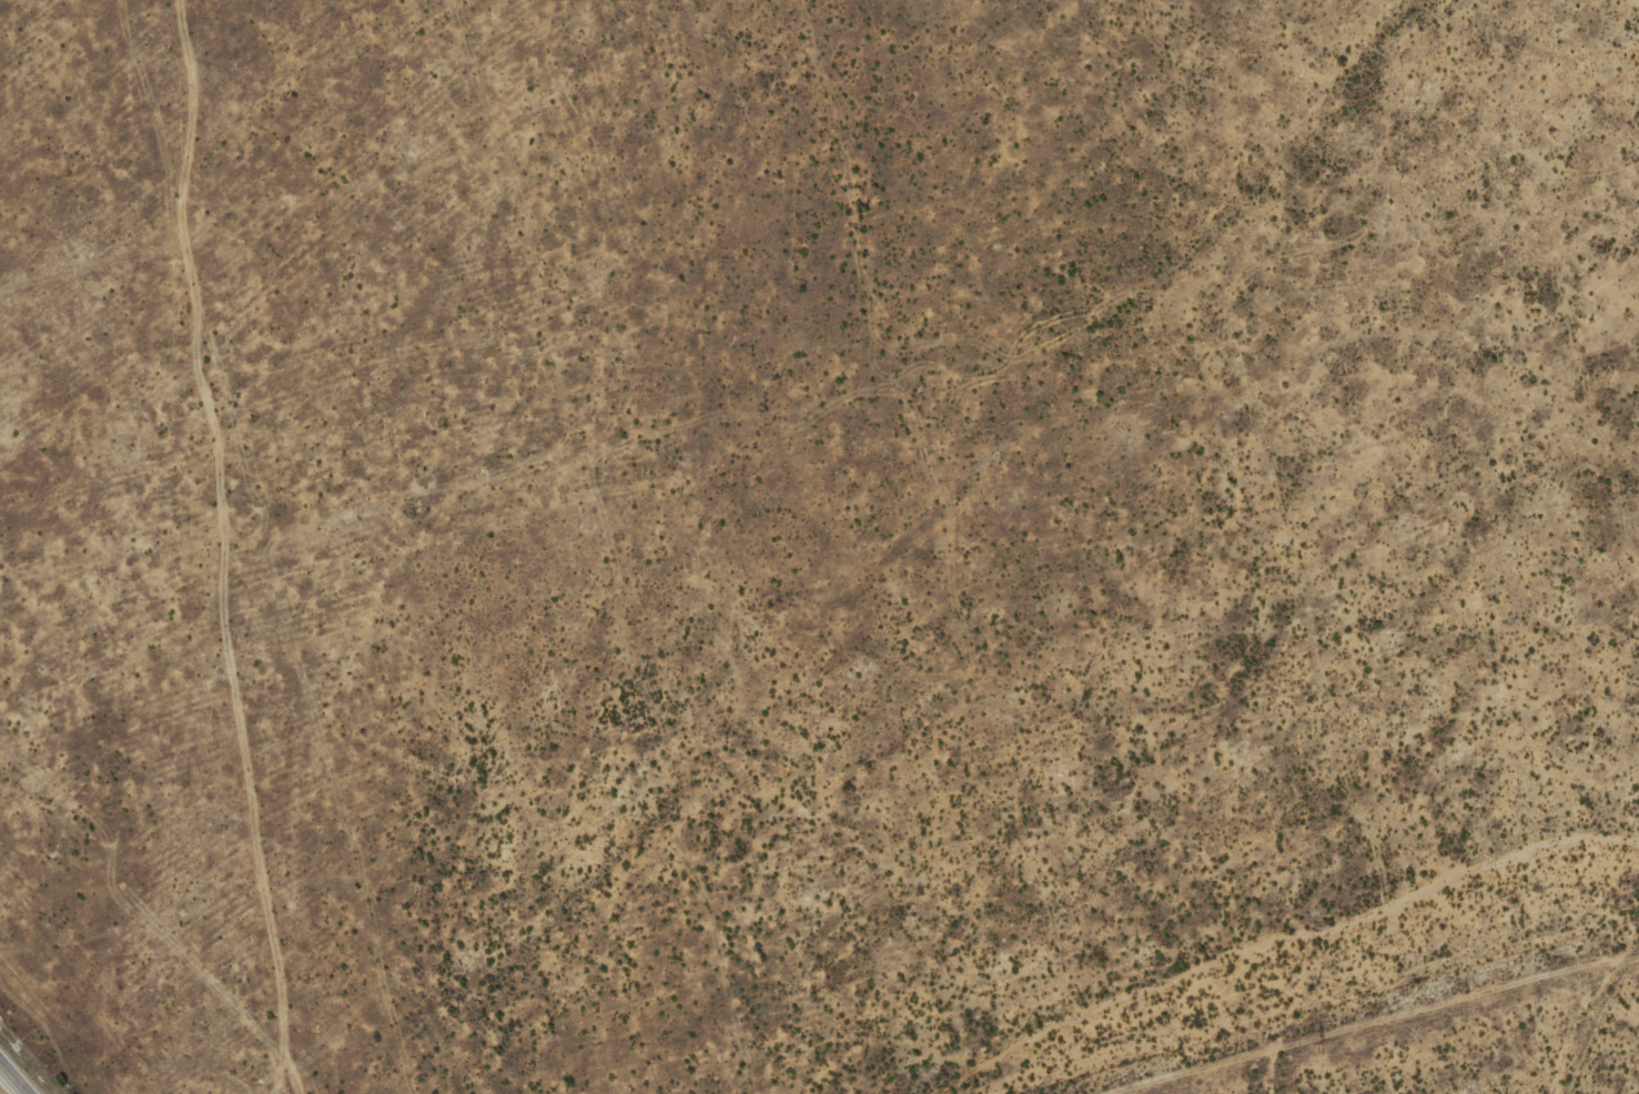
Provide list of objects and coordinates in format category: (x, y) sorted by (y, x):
power tower: (1322, 1049)
road: (11, 1081)

